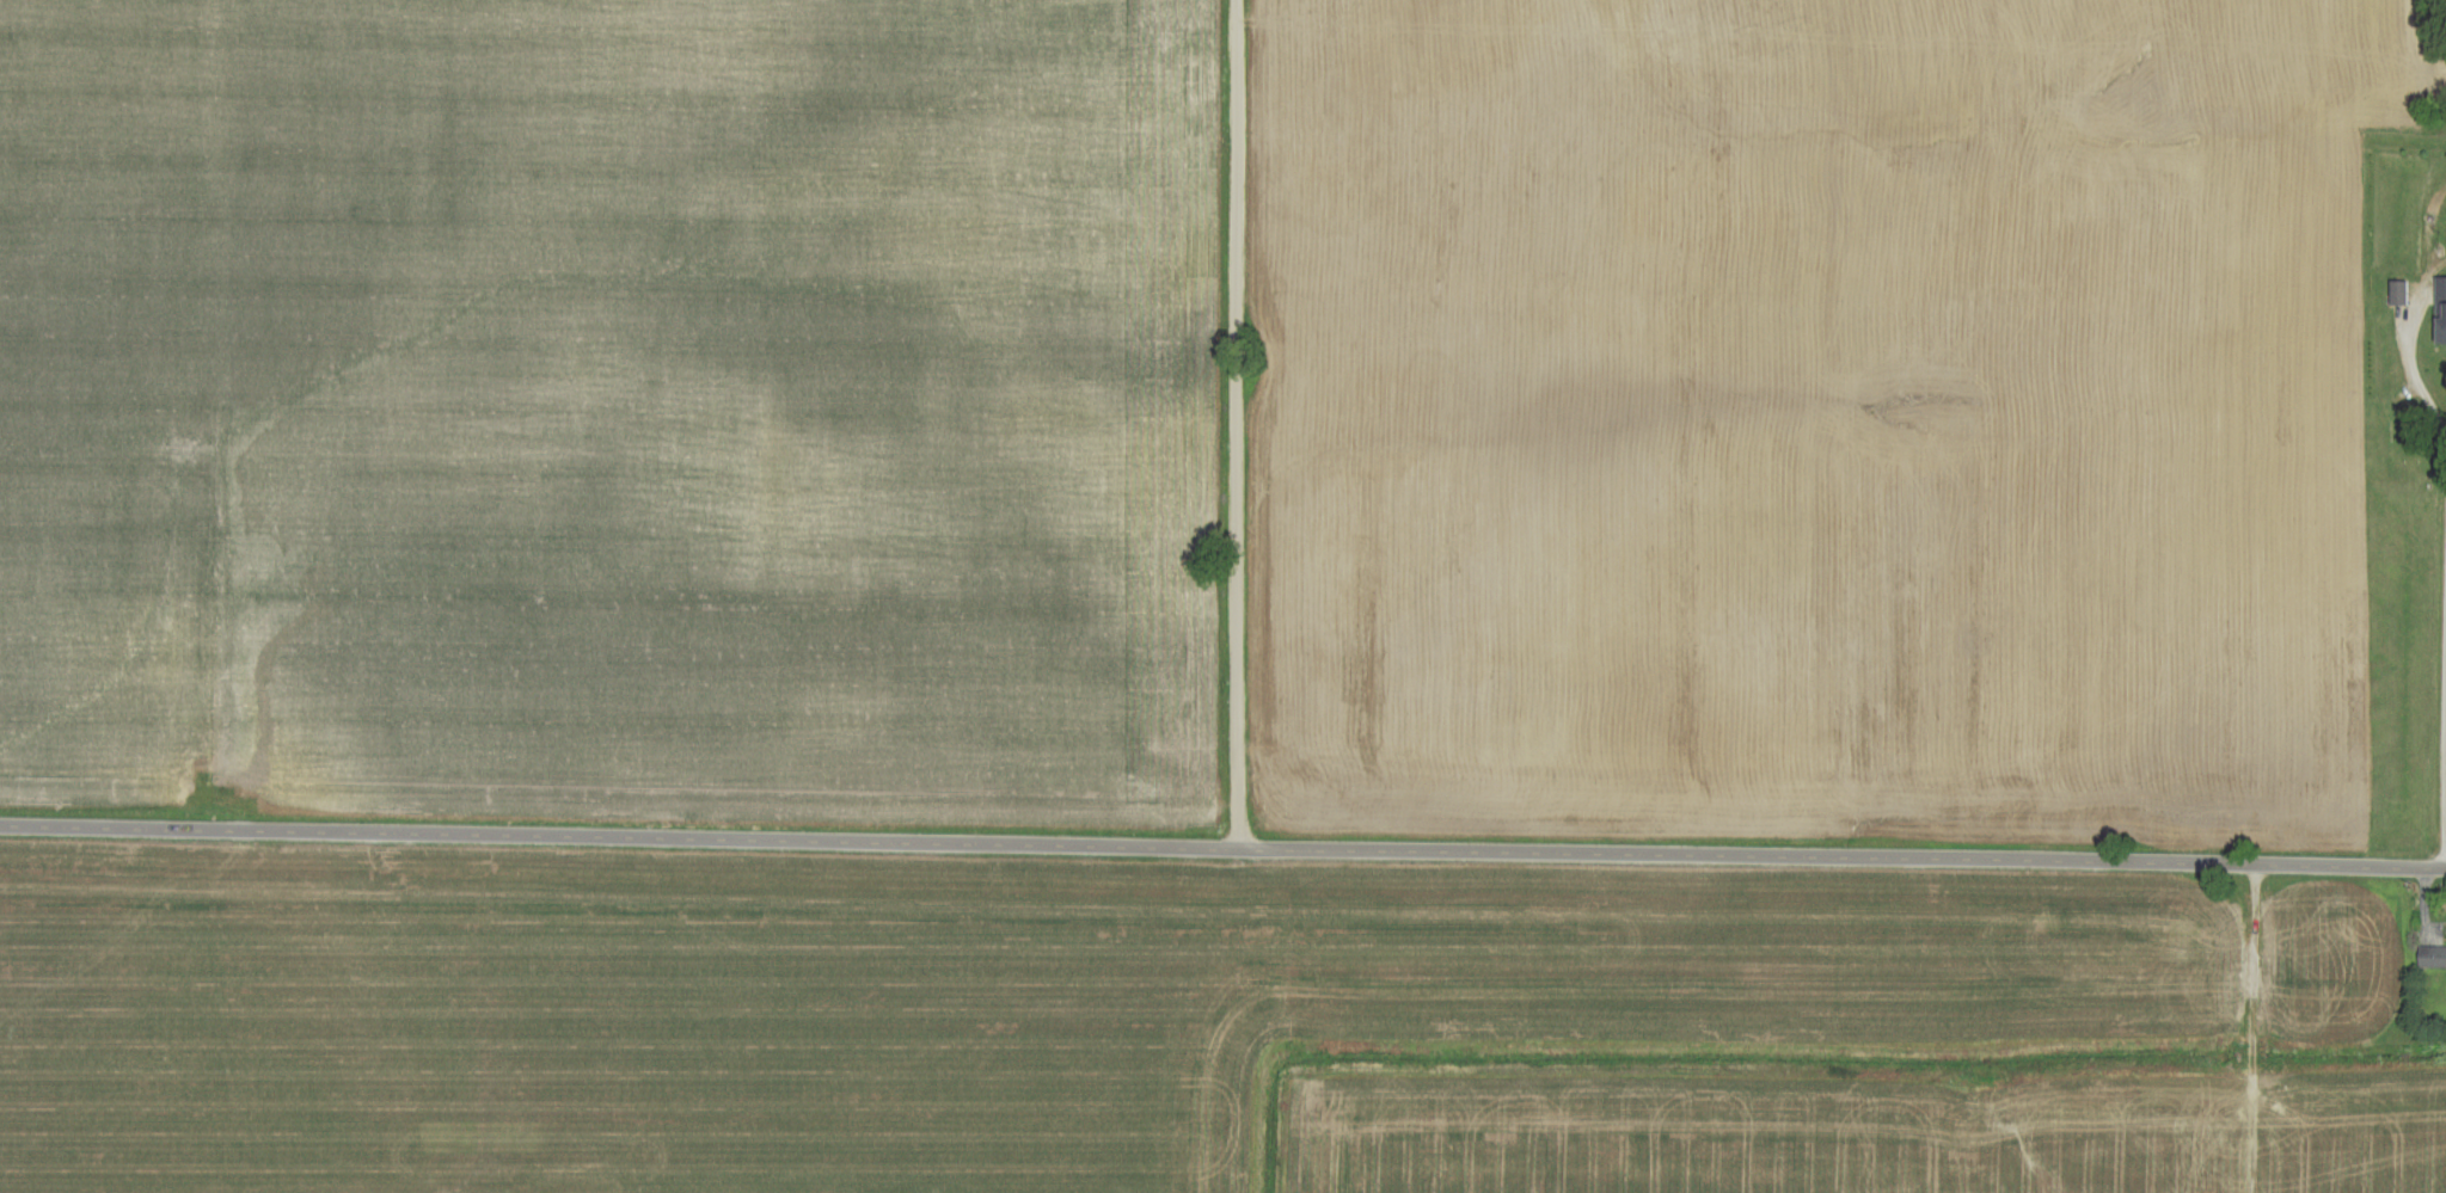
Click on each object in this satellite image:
building: (2444, 313)
road: (2417, 365)
road: (1234, 423)
road: (2441, 731)
road: (1222, 845)
building: (2434, 957)

